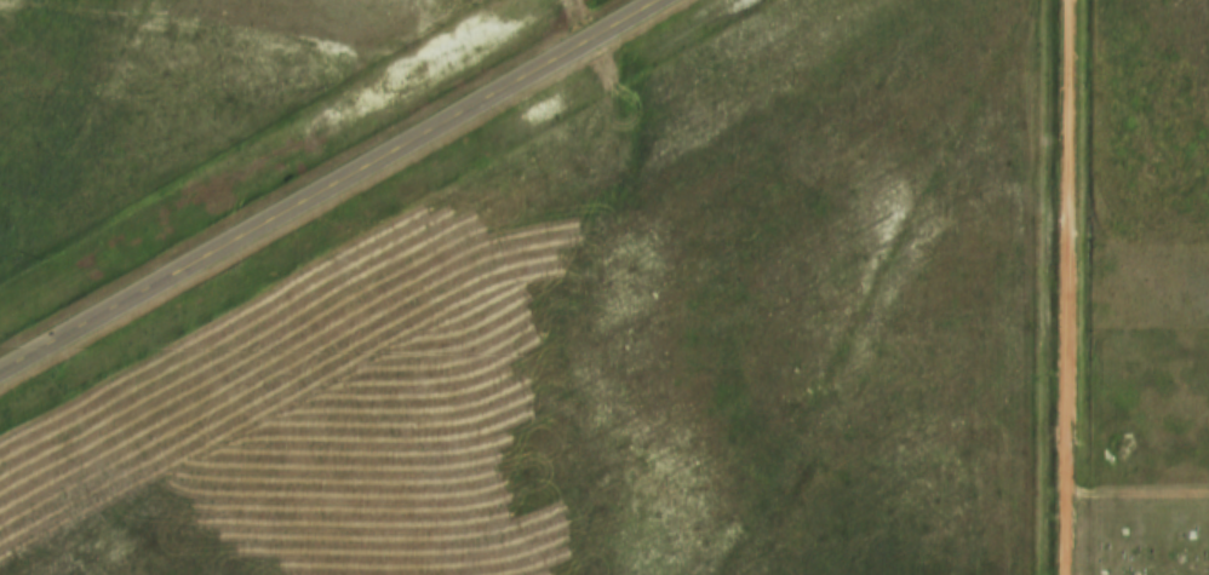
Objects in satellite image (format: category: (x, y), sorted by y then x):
road: (328, 185)
road: (1068, 287)
park: (1148, 530)

